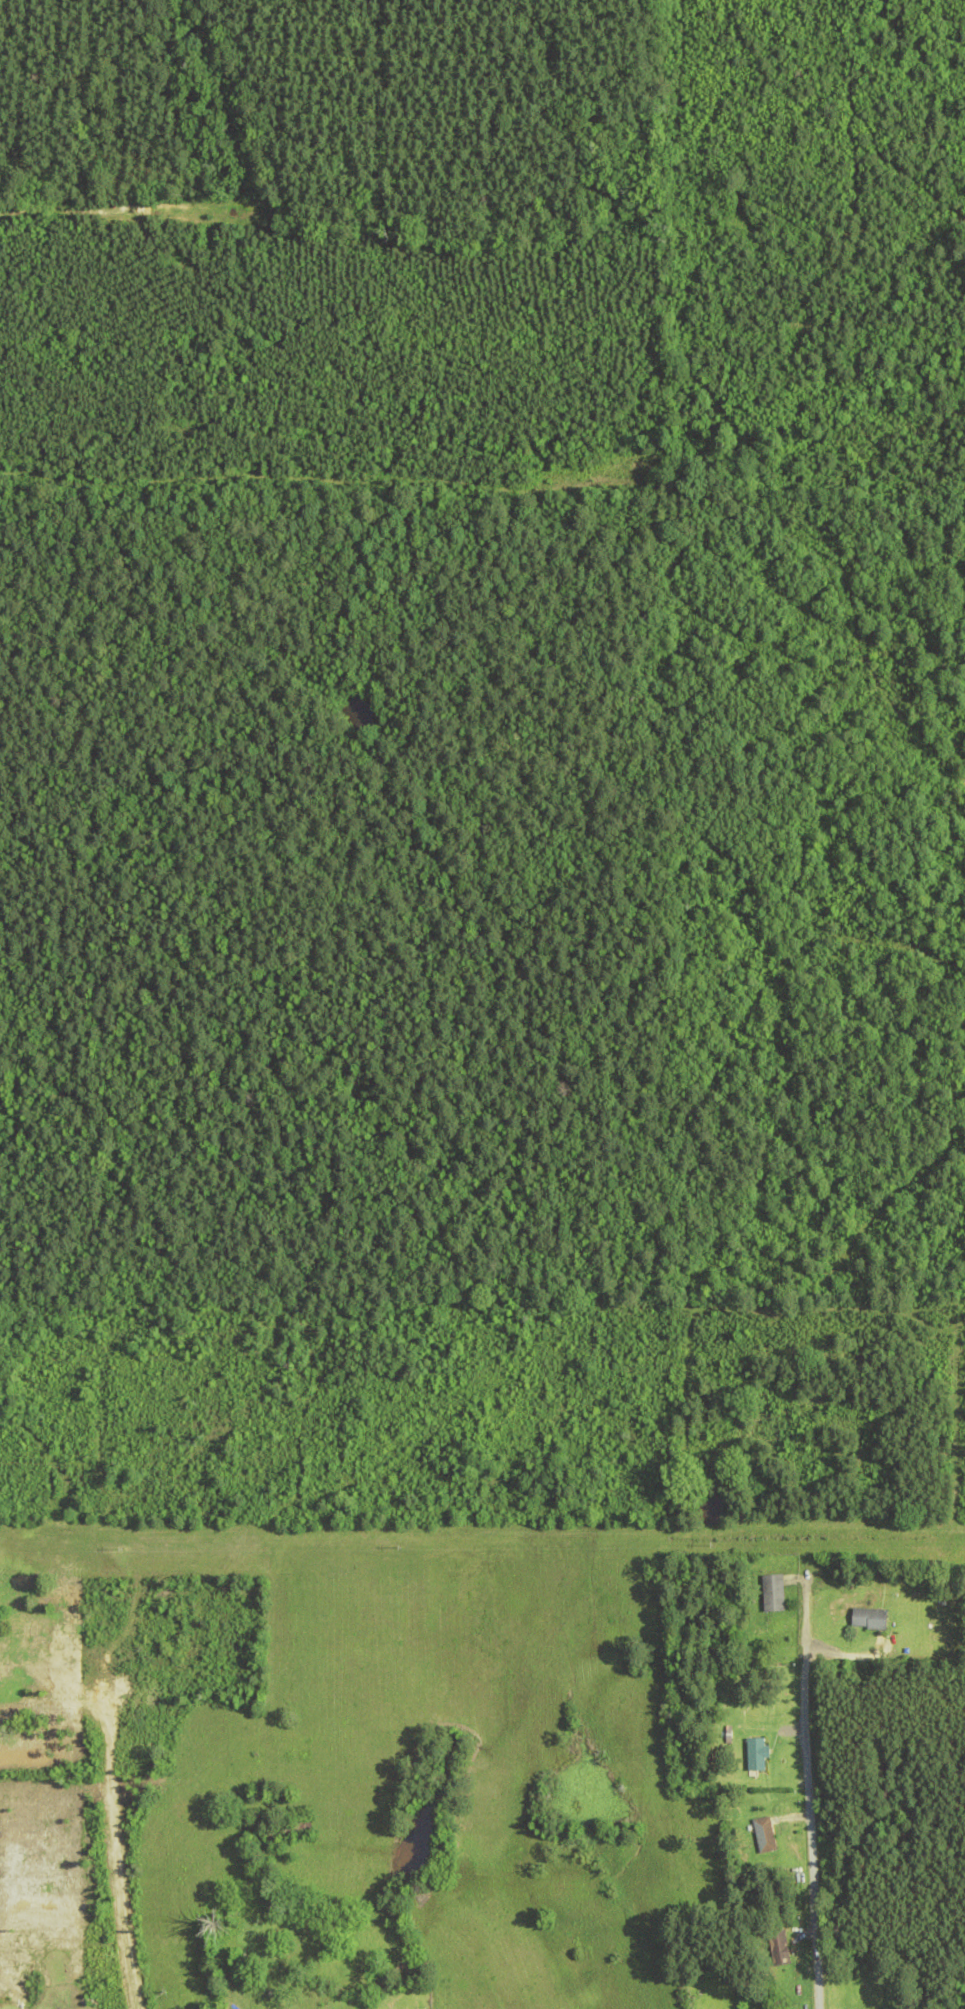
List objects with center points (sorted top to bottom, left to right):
building: (771, 1594)
building: (866, 1619)
road: (89, 1718)
building: (752, 1719)
building: (755, 1755)
road: (808, 1812)
building: (763, 1836)
building: (776, 1949)
building: (863, 2001)

